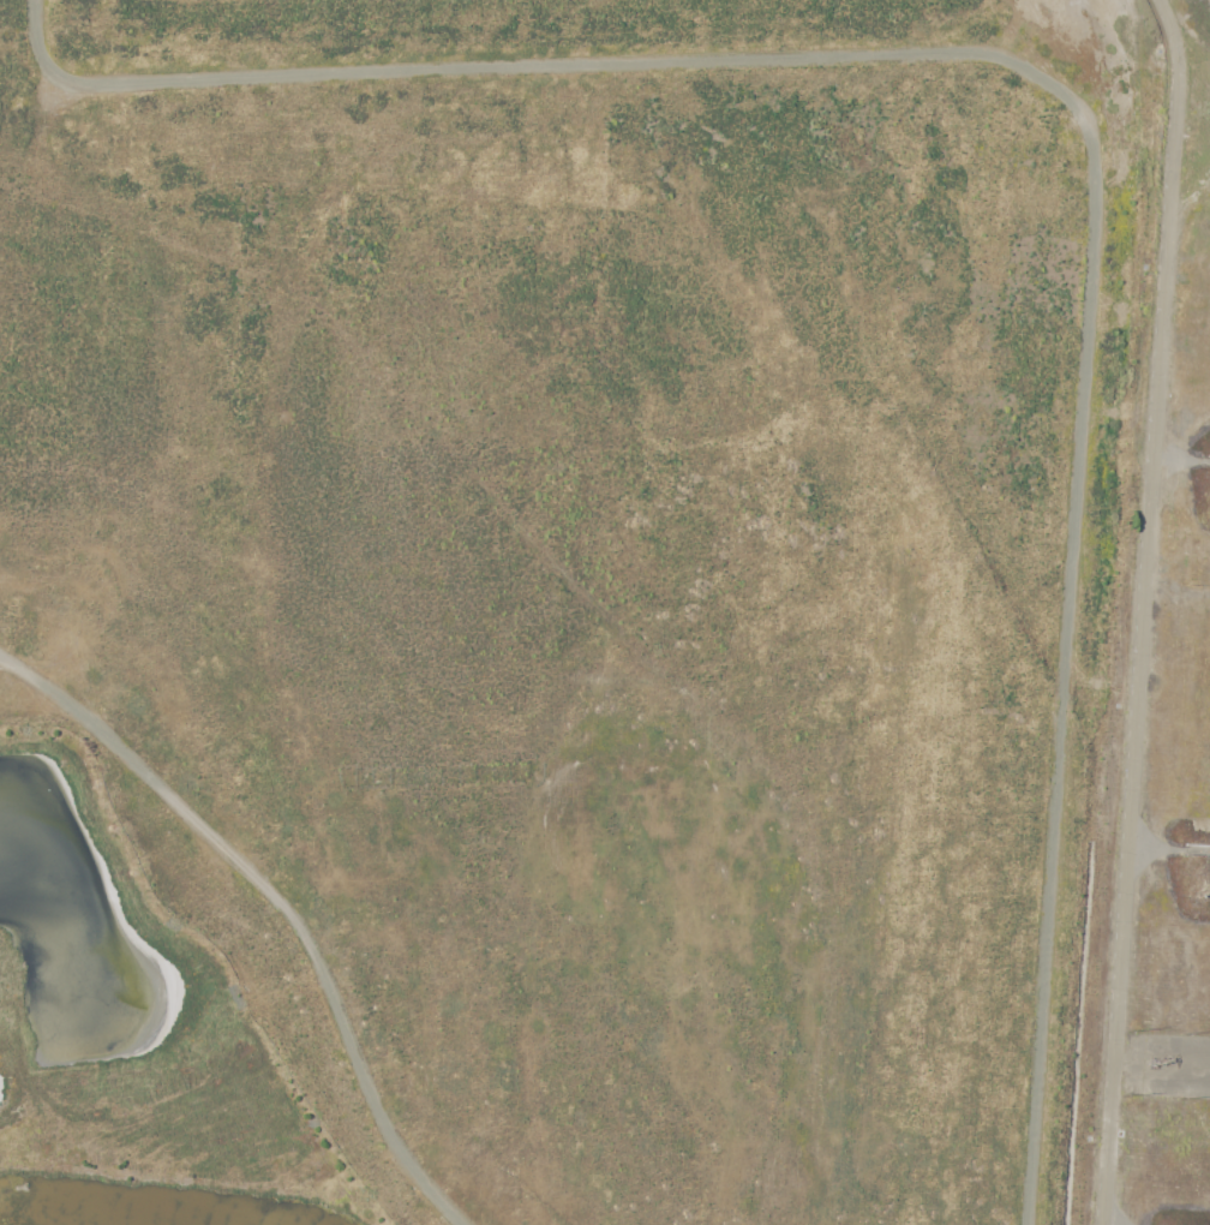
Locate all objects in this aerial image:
road: (1143, 610)

